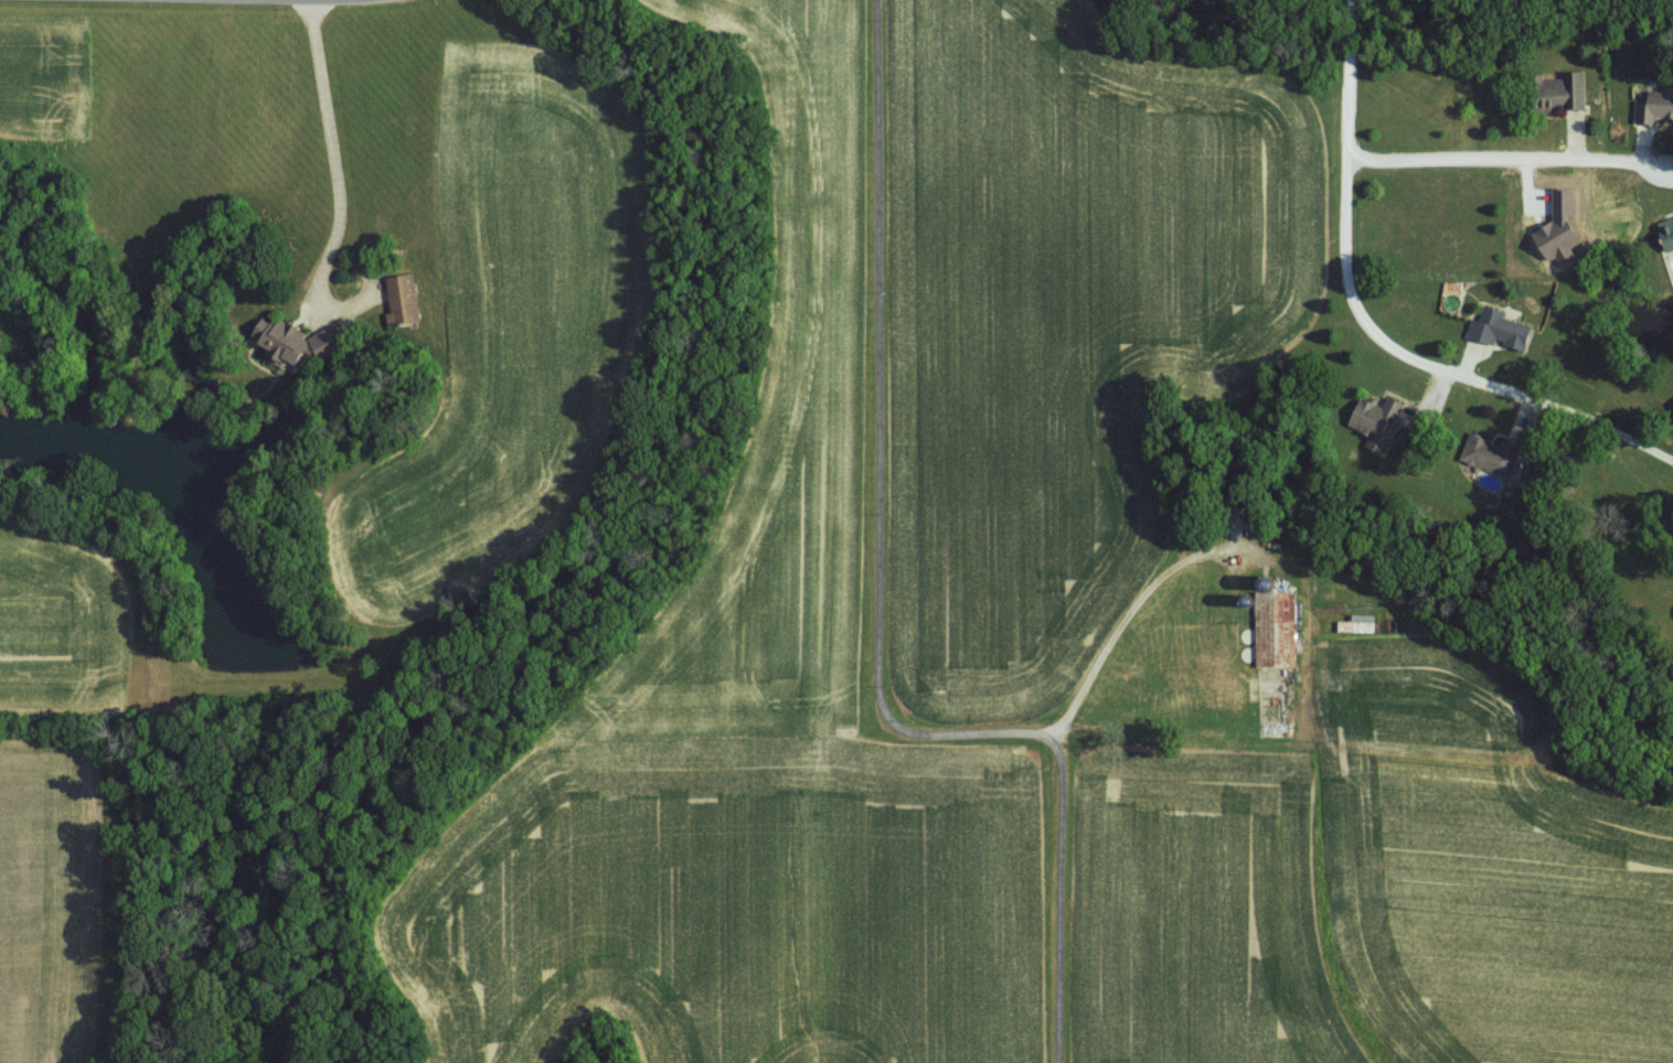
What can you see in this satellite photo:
road: (320, 0)
building: (1655, 106)
road: (1509, 159)
road: (335, 183)
building: (1558, 224)
building: (1666, 234)
building: (402, 299)
road: (1367, 329)
building: (1499, 330)
building: (295, 340)
building: (1378, 421)
building: (1490, 454)
road: (880, 606)
building: (1281, 619)
road: (1120, 623)

